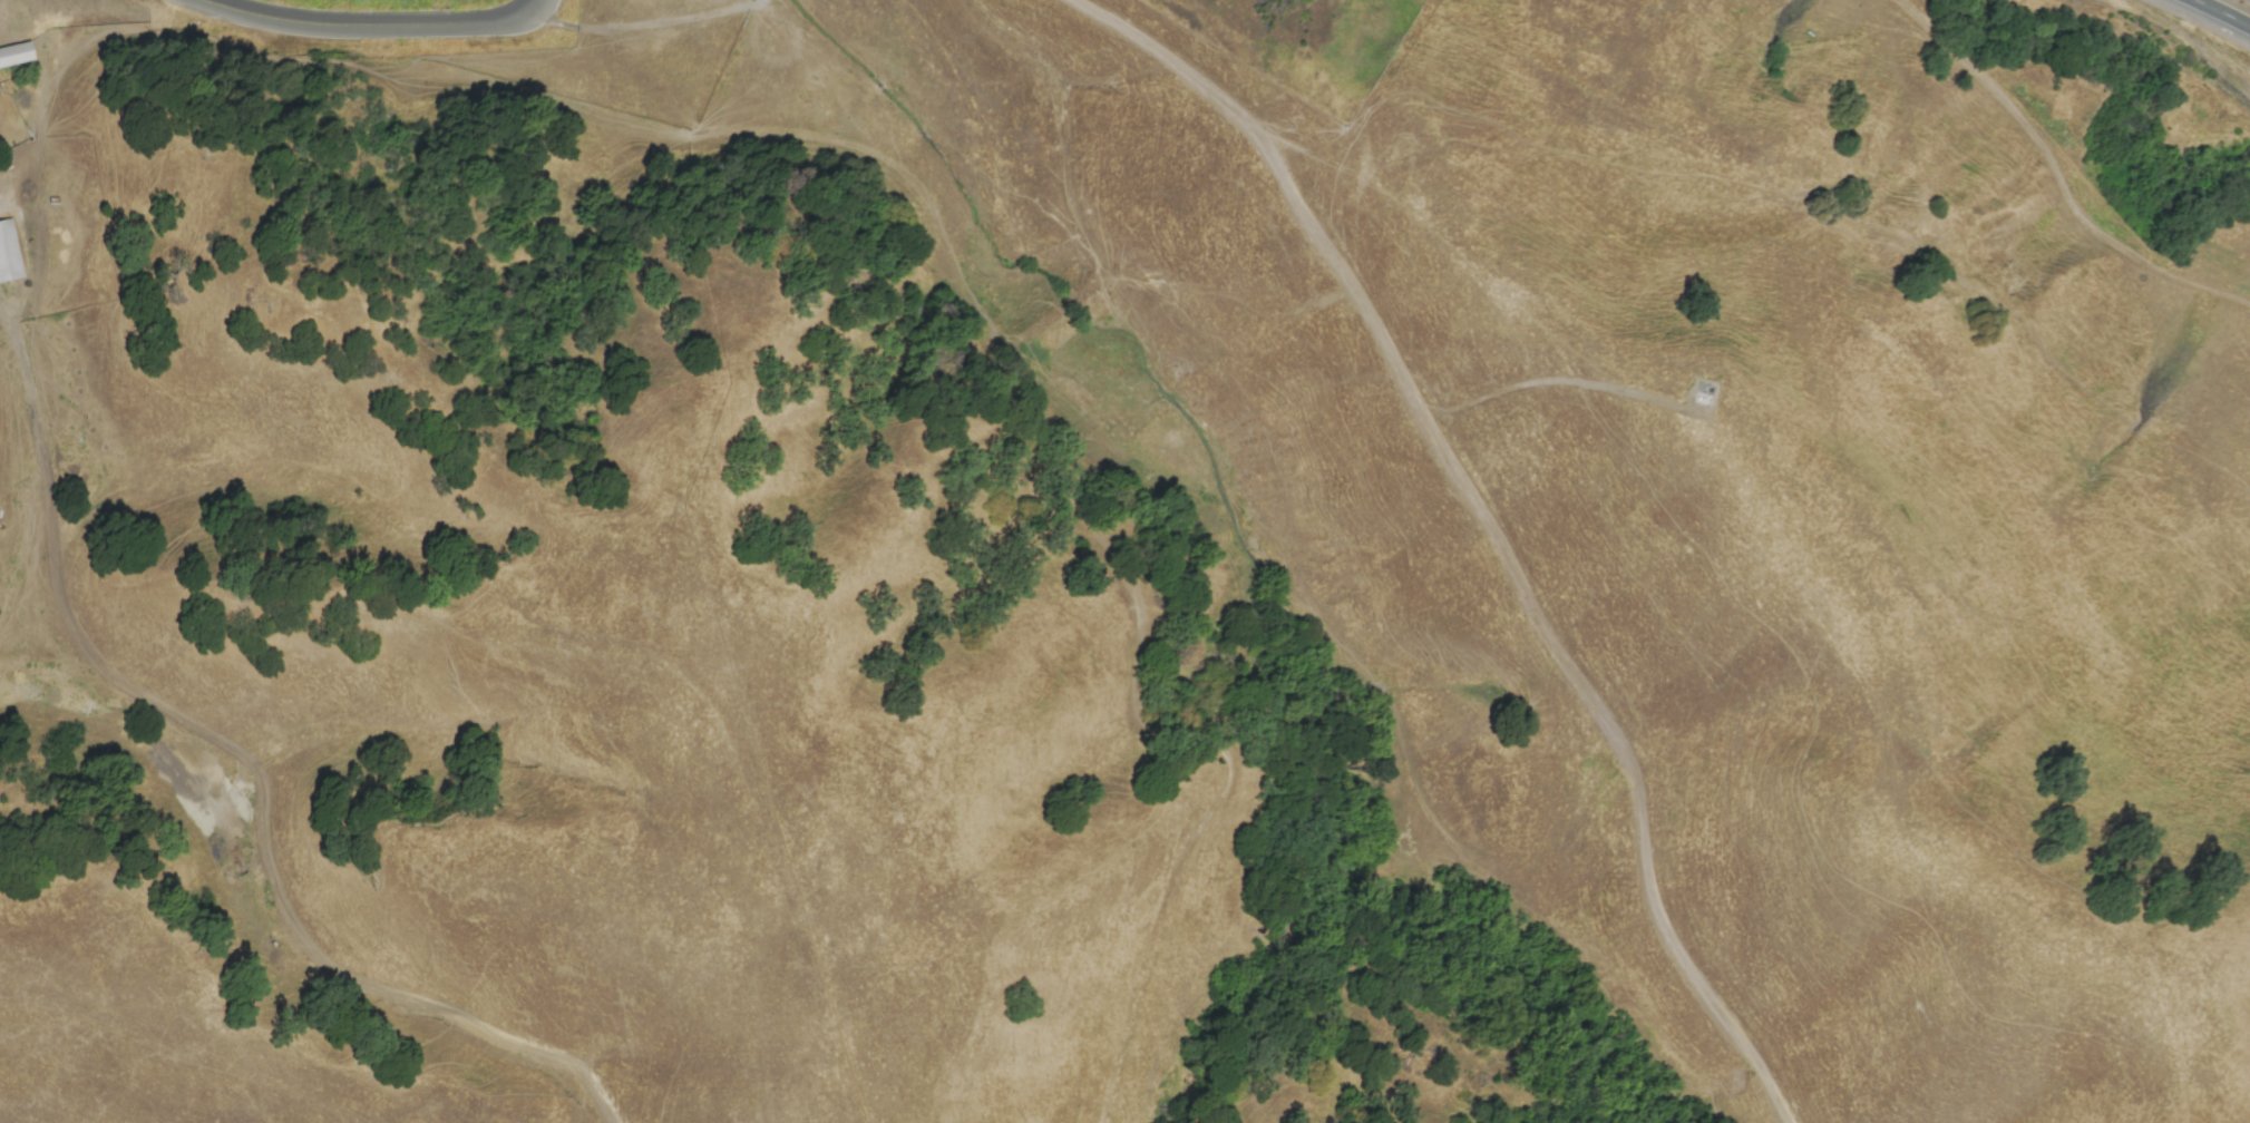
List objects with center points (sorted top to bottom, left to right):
road: (2222, 13)
road: (373, 23)
road: (645, 26)
building: (16, 53)
road: (2058, 177)
building: (9, 253)
road: (1547, 380)
road: (977, 426)
road: (1487, 526)
crop: (1127, 575)
road: (25, 577)
road: (247, 770)

